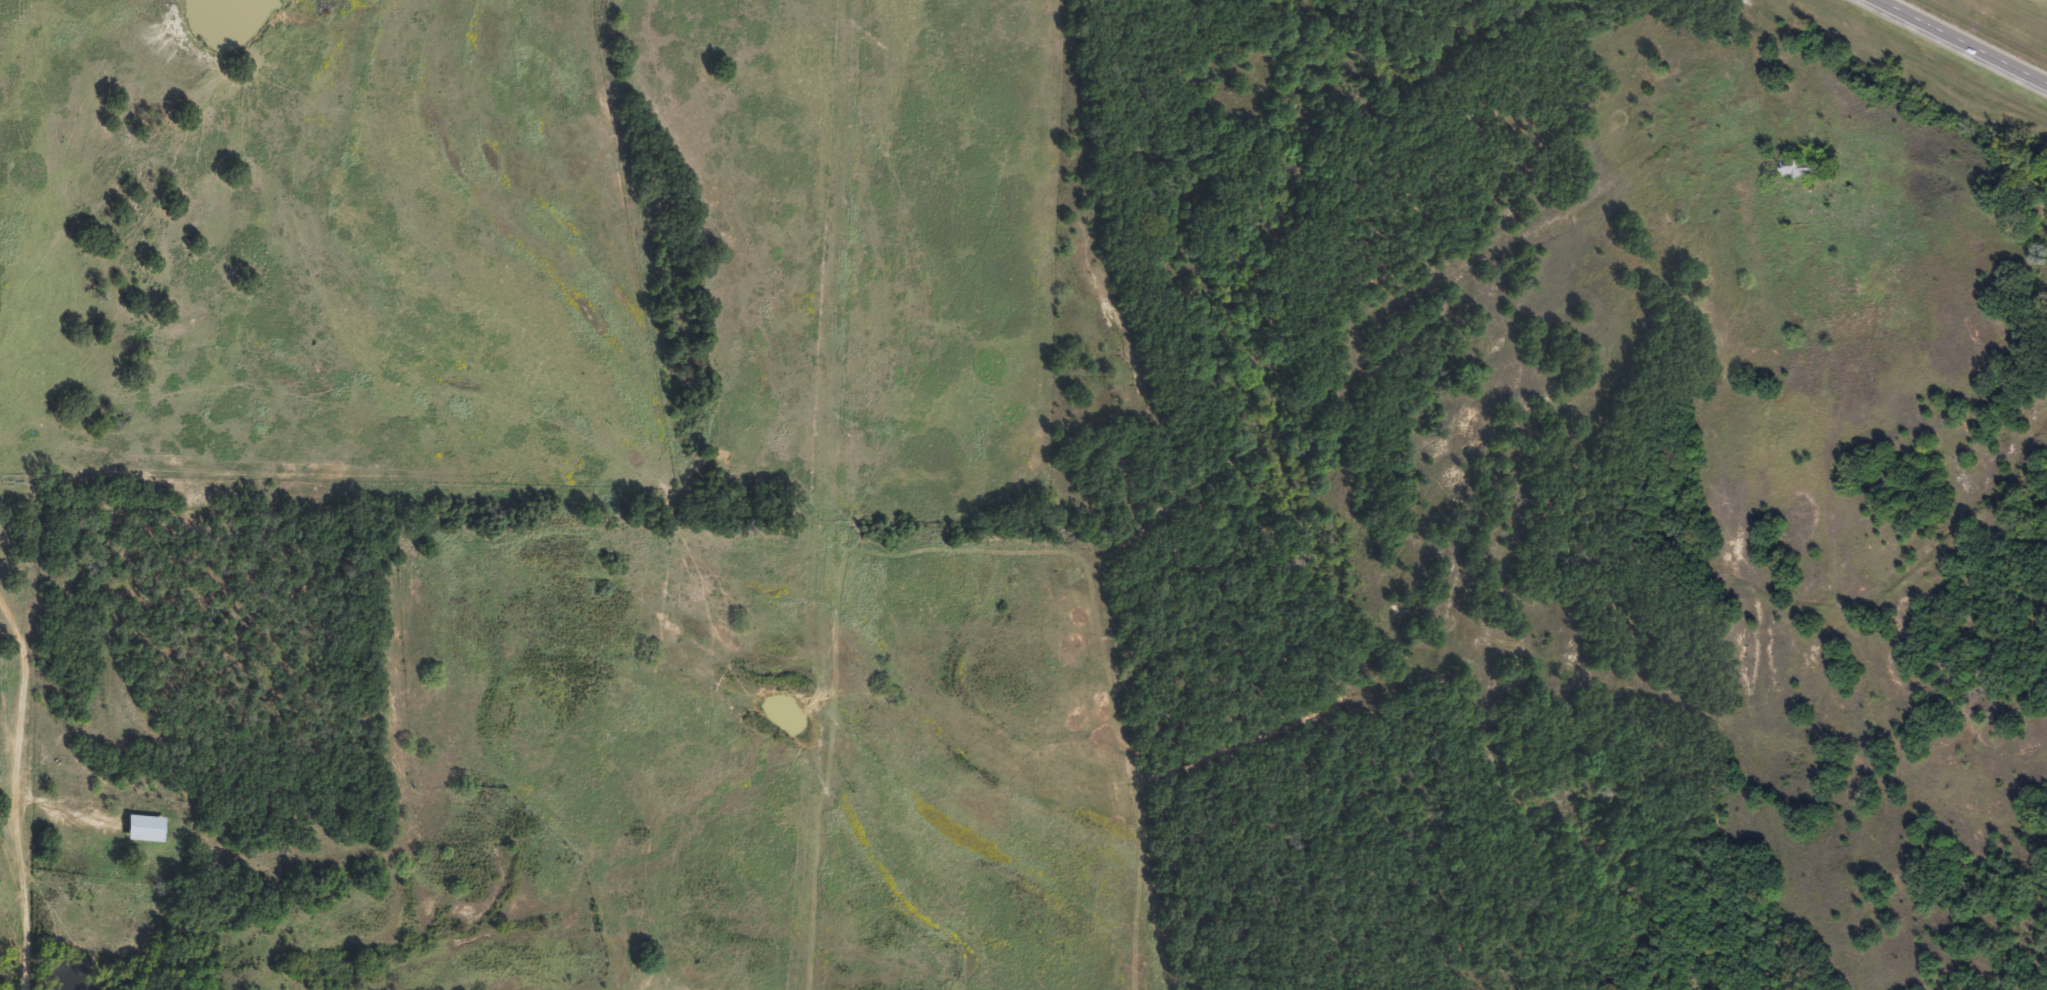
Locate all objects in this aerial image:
road: (1964, 41)
building: (1798, 169)
road: (14, 798)
building: (142, 829)

